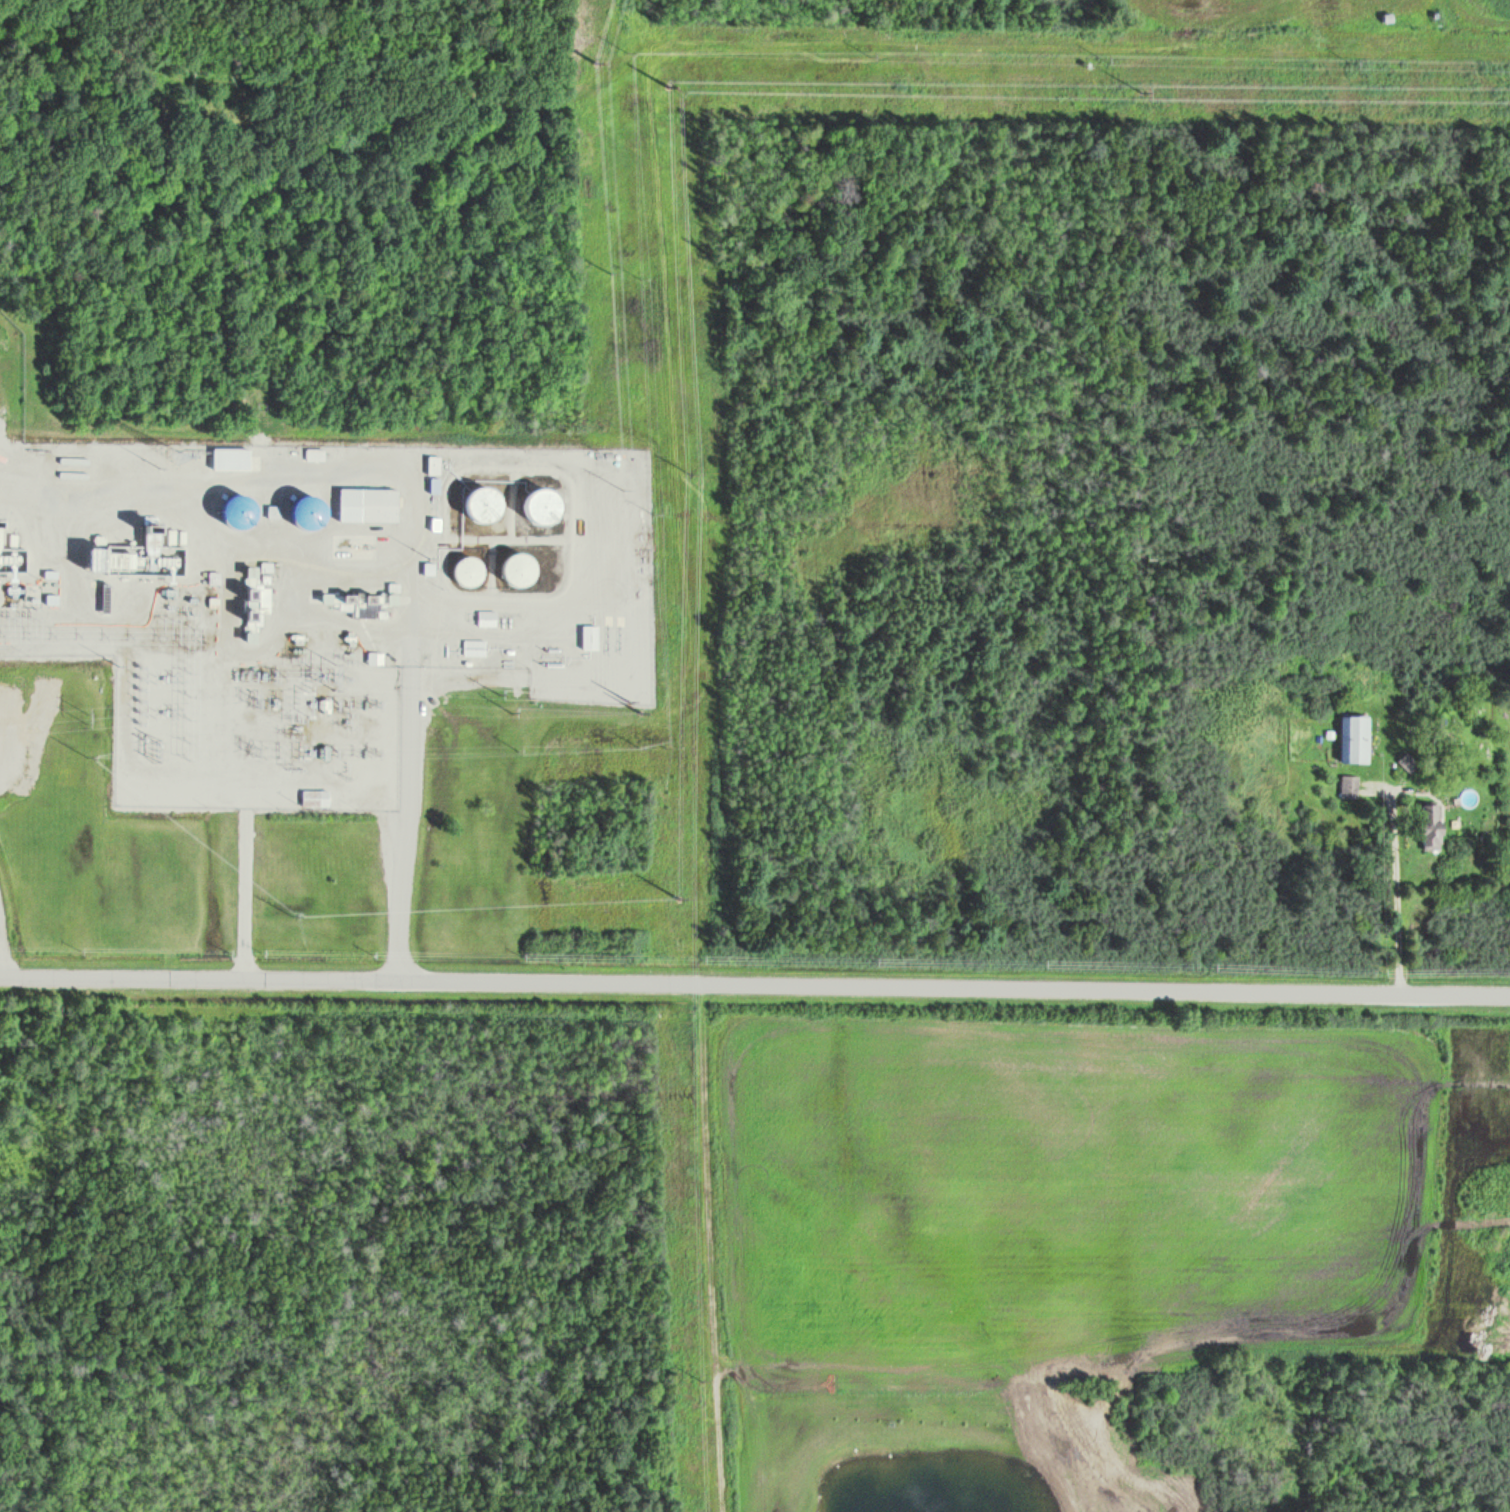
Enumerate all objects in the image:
crop: (1322, 14)
power tower: (624, 49)
power tower: (871, 53)
power tower: (1104, 56)
power tower: (597, 60)
power tower: (1354, 63)
power tower: (670, 84)
power tower: (1143, 91)
power tower: (609, 272)
power tower: (637, 278)
building: (314, 454)
power tower: (690, 469)
power tower: (622, 488)
building: (365, 505)
building: (479, 505)
building: (536, 506)
building: (234, 512)
building: (304, 513)
chimney: (154, 528)
power plant: (359, 541)
building: (513, 570)
building: (464, 571)
building: (484, 618)
building: (587, 637)
building: (472, 648)
power tower: (338, 671)
power tower: (497, 690)
power substation: (222, 698)
power tower: (366, 698)
power tower: (630, 699)
power tower: (130, 703)
power tower: (511, 709)
power tower: (642, 712)
power tower: (86, 718)
building: (1352, 740)
power tower: (657, 741)
power tower: (640, 748)
power tower: (520, 751)
power tower: (372, 752)
power tower: (88, 756)
building: (1405, 762)
building: (1348, 787)
building: (313, 798)
building: (1428, 826)
road: (405, 833)
road: (244, 898)
power tower: (677, 898)
power tower: (292, 915)
road: (755, 979)
power tower: (701, 1379)

